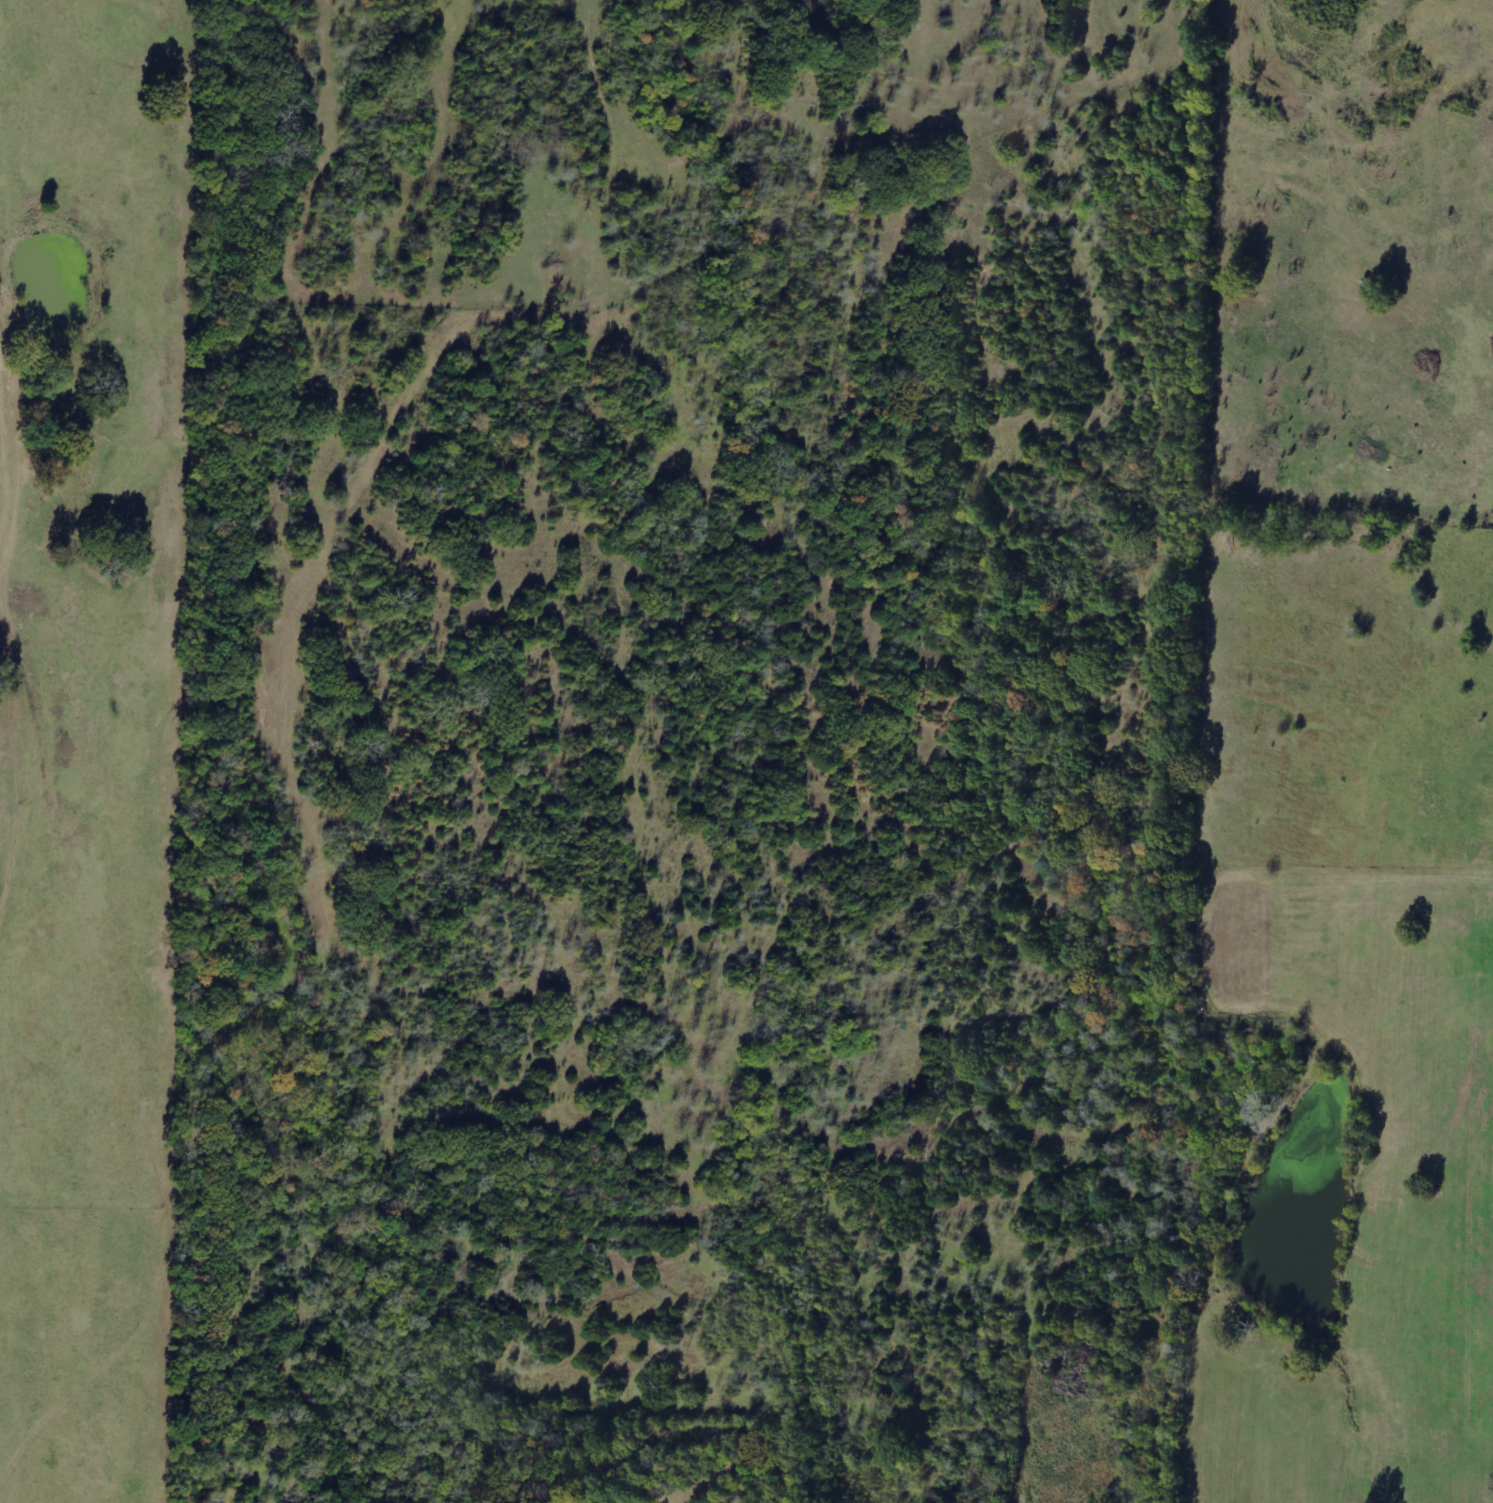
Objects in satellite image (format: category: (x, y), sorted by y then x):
road: (208, 1277)
road: (819, 1496)

